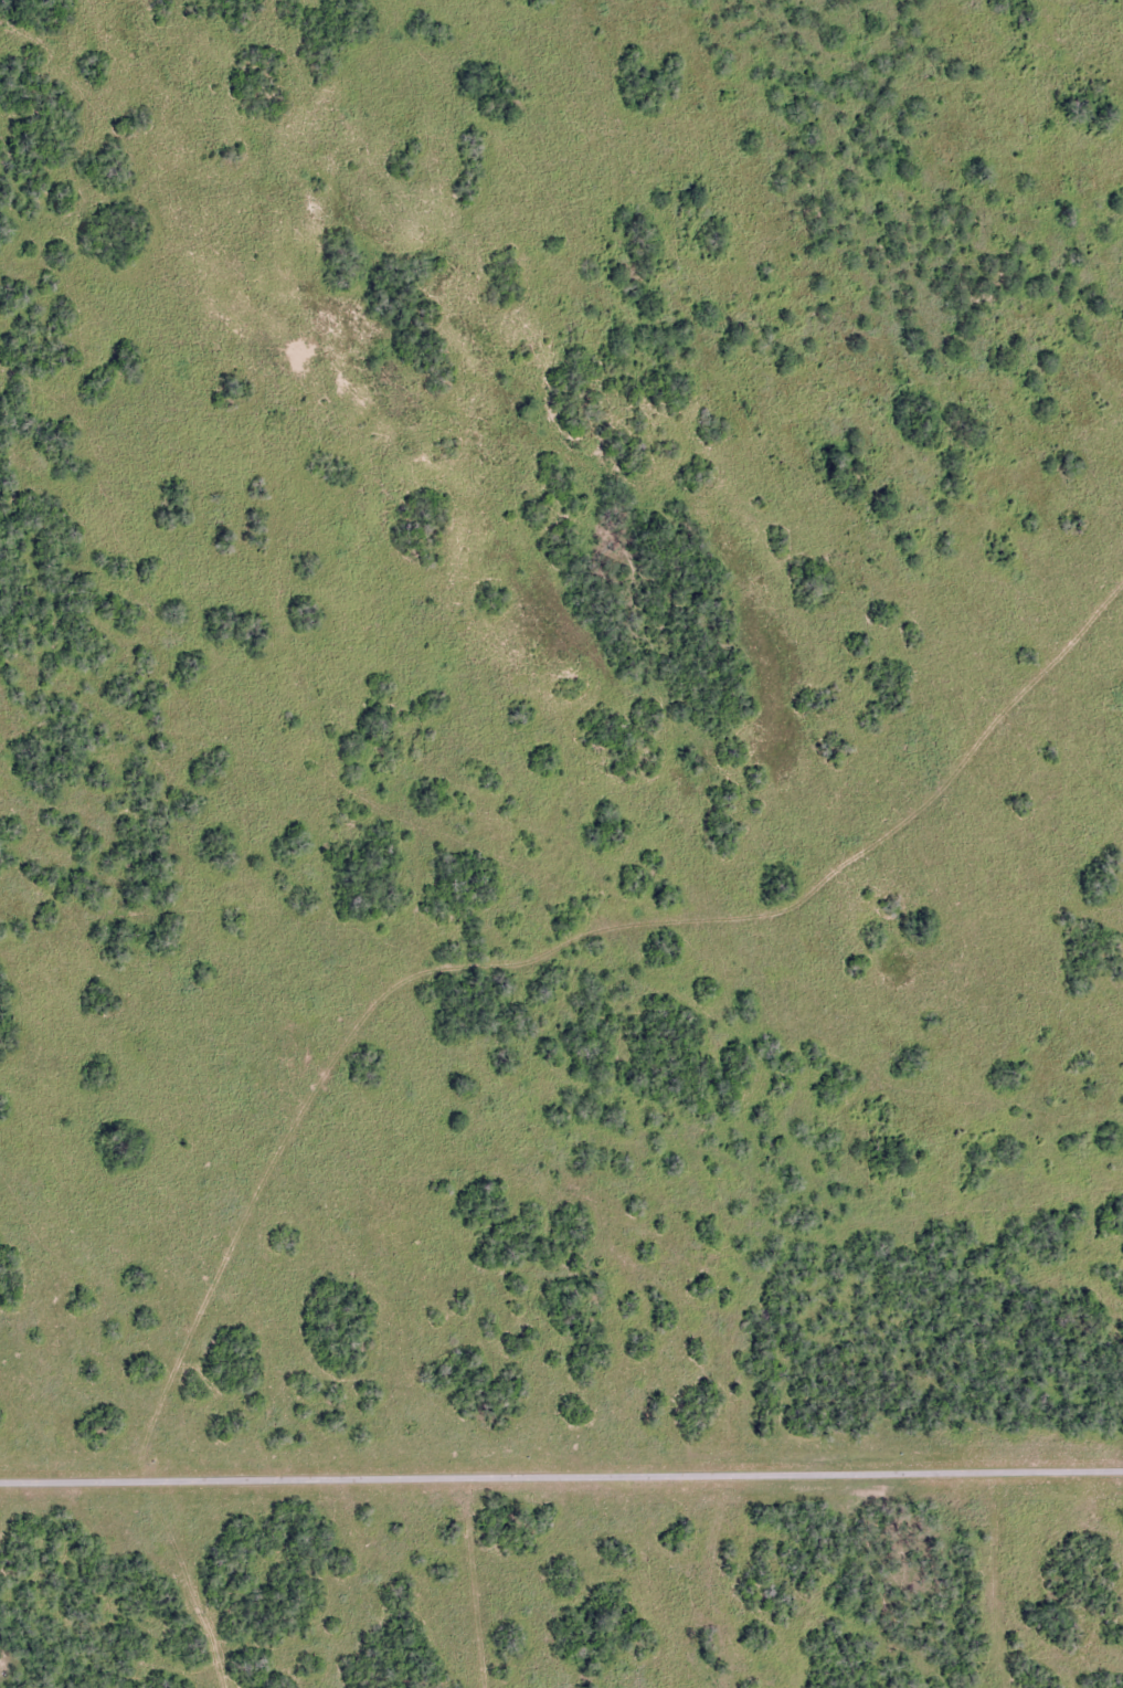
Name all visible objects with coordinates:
road: (561, 1434)

